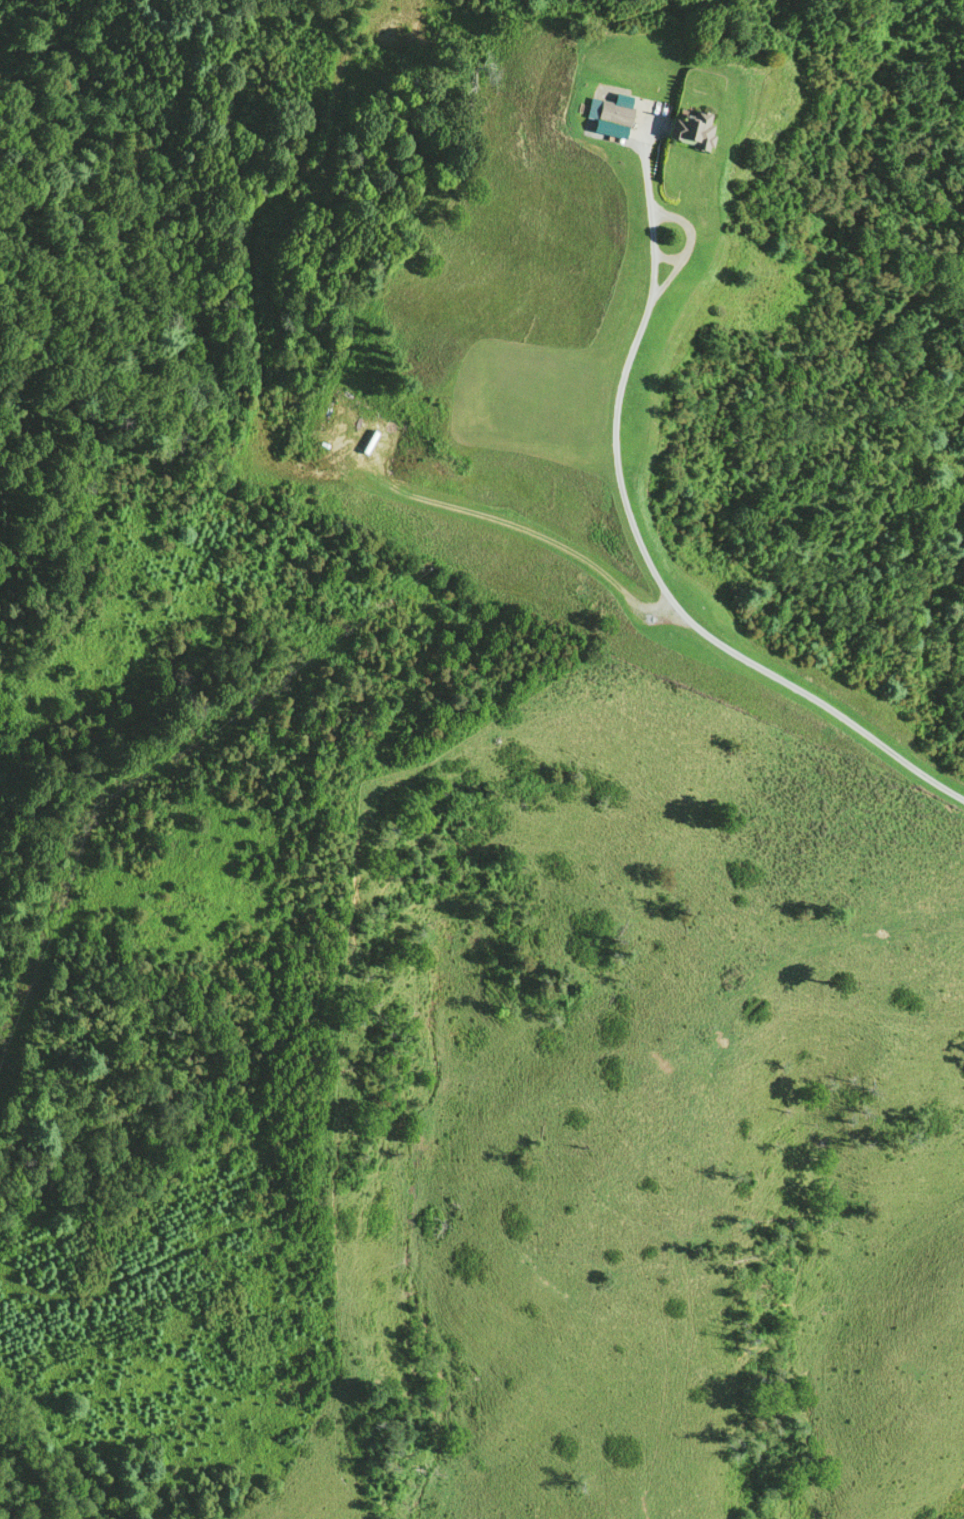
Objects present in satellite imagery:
building: (616, 114)
building: (695, 129)
road: (668, 604)

